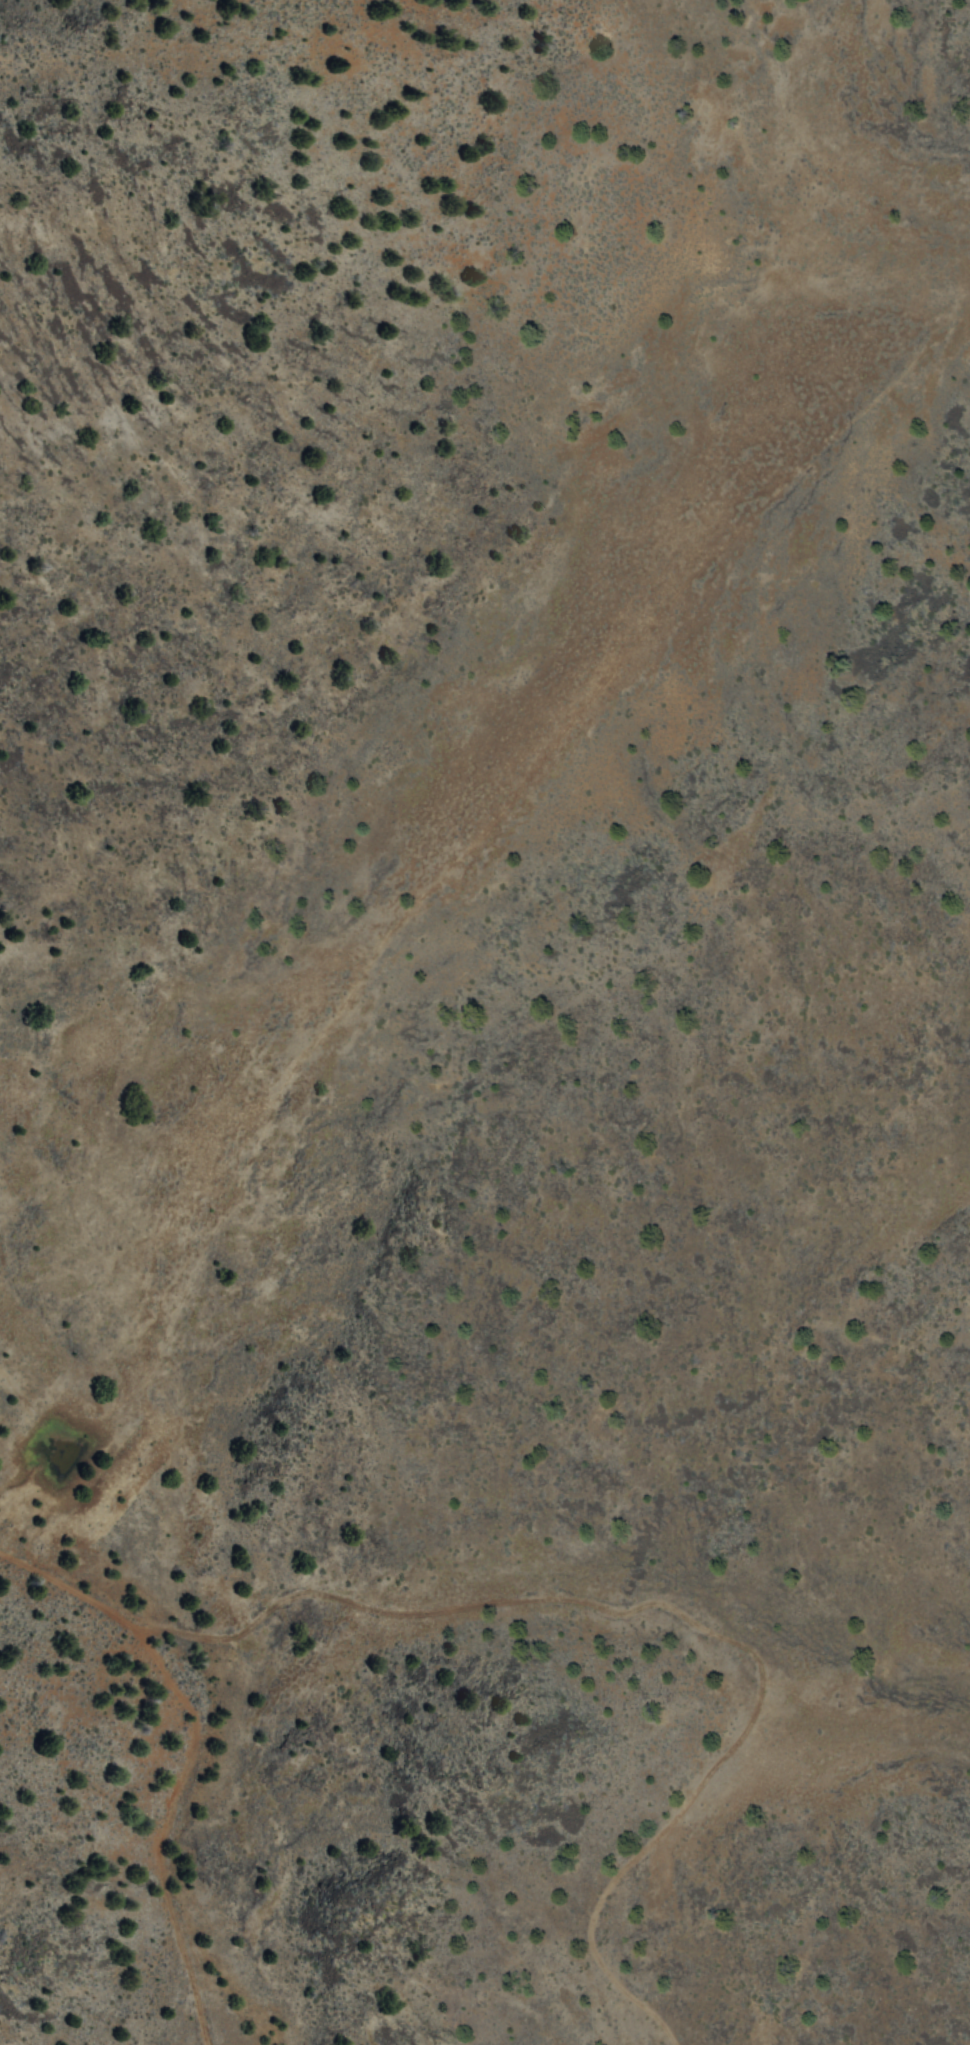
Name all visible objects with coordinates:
road: (193, 1752)

